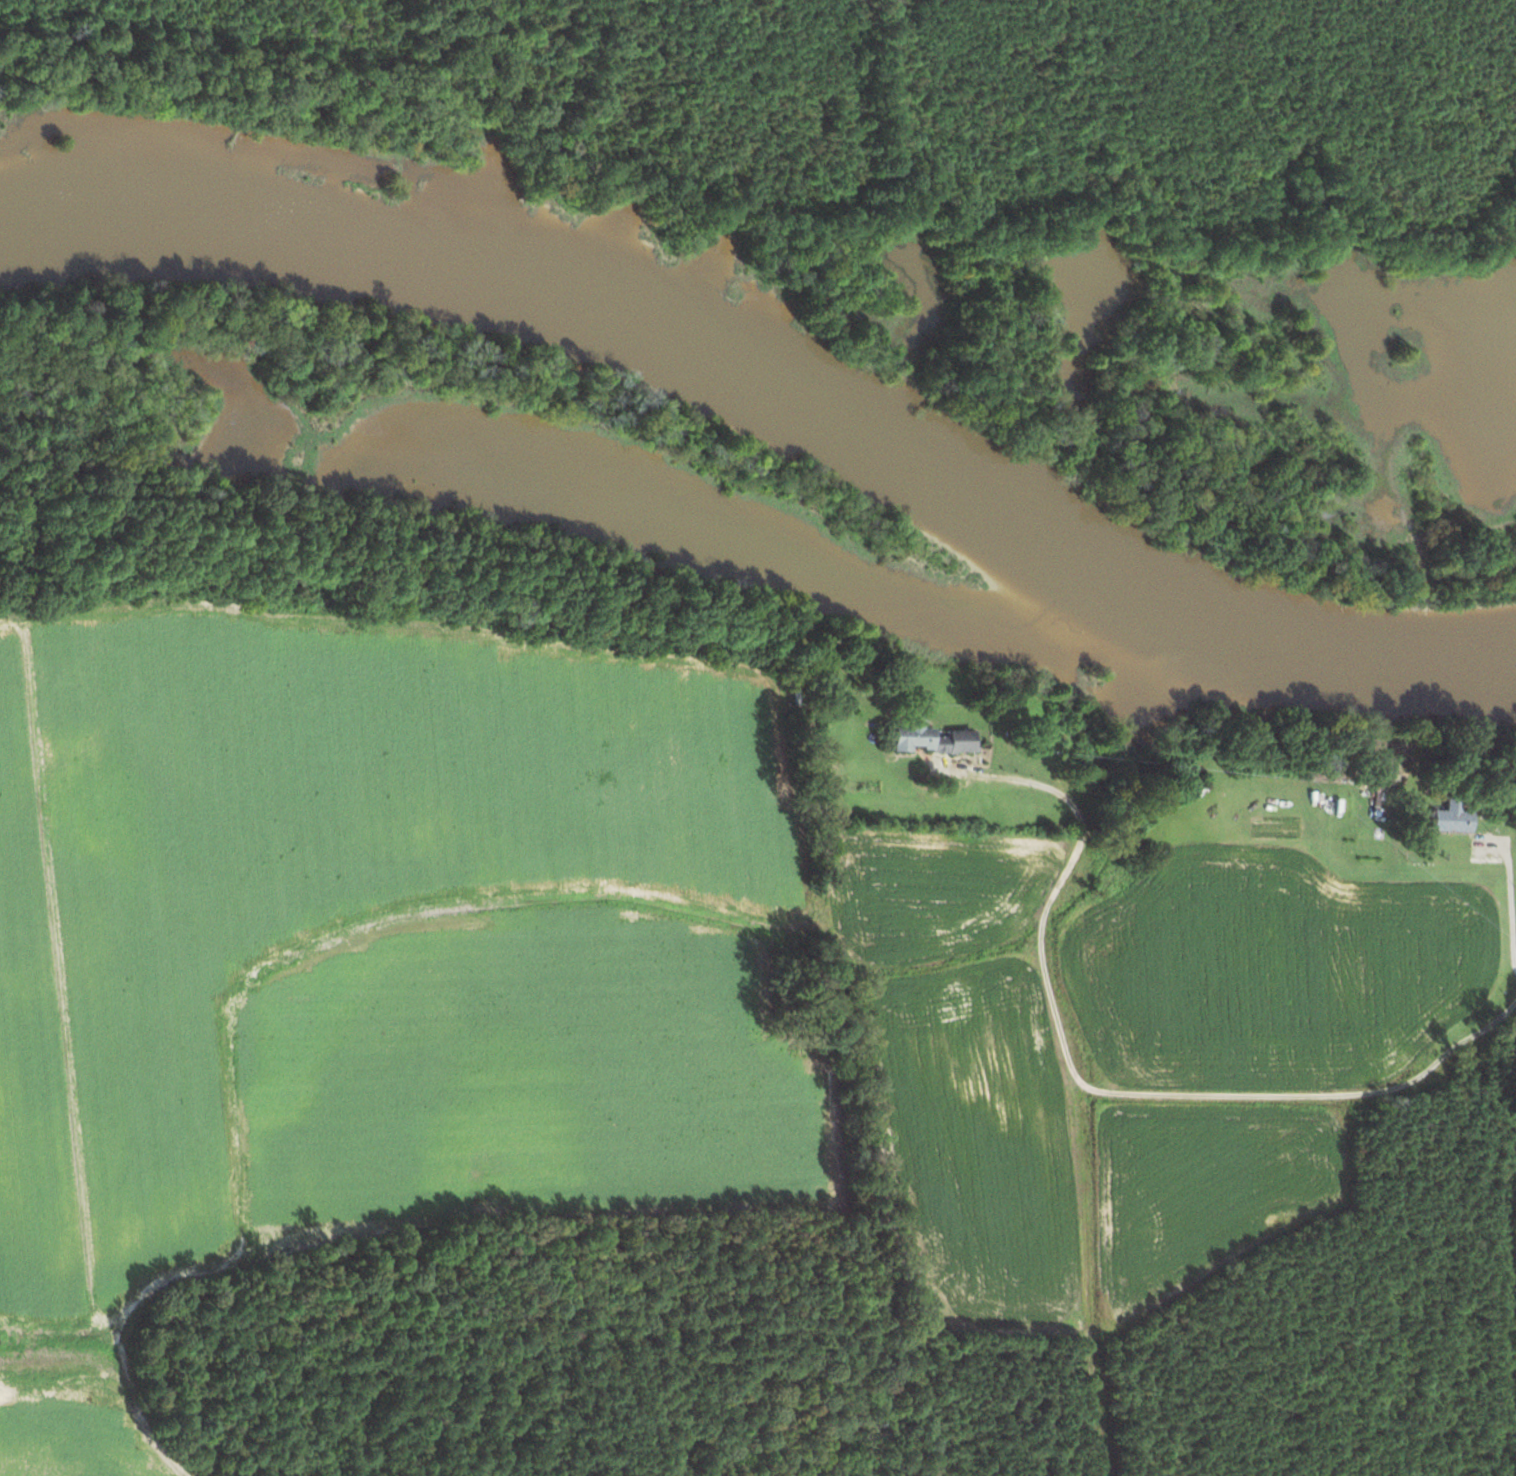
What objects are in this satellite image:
river: (251, 227)
river: (1006, 496)
building: (932, 741)
building: (1382, 801)
building: (1450, 820)

